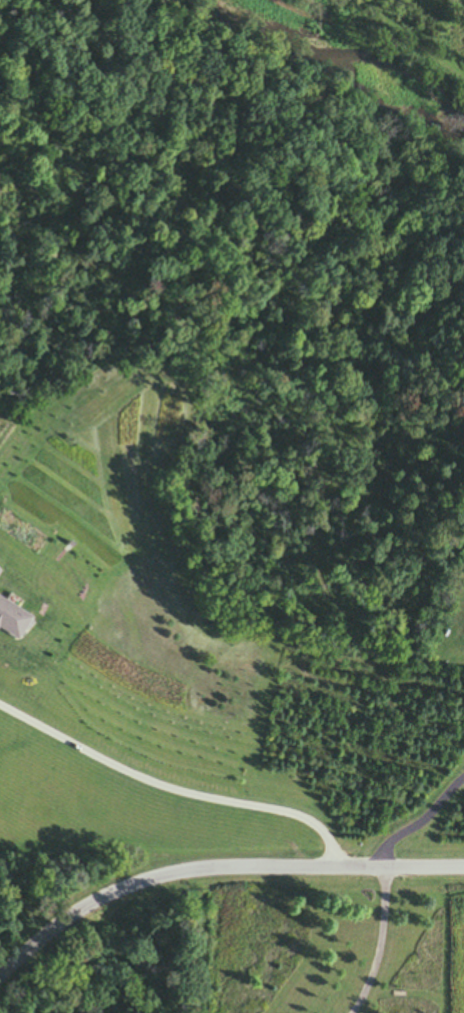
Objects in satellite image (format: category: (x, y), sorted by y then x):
road: (410, 38)
road: (372, 55)
road: (262, 265)
road: (198, 514)
building: (9, 619)
road: (173, 791)
road: (216, 868)
road: (380, 879)

